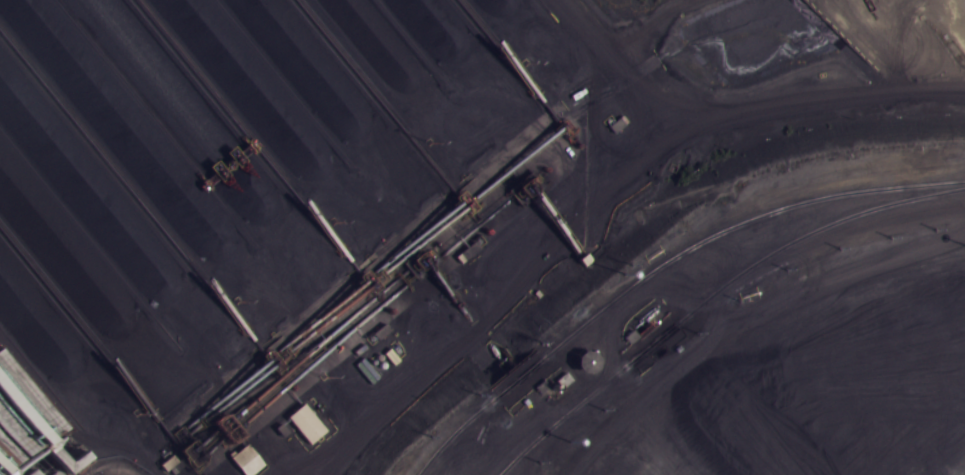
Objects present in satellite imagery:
power plant: (444, 261)
railway: (667, 269)
railway: (718, 299)
building: (304, 421)
building: (30, 433)
building: (246, 460)

